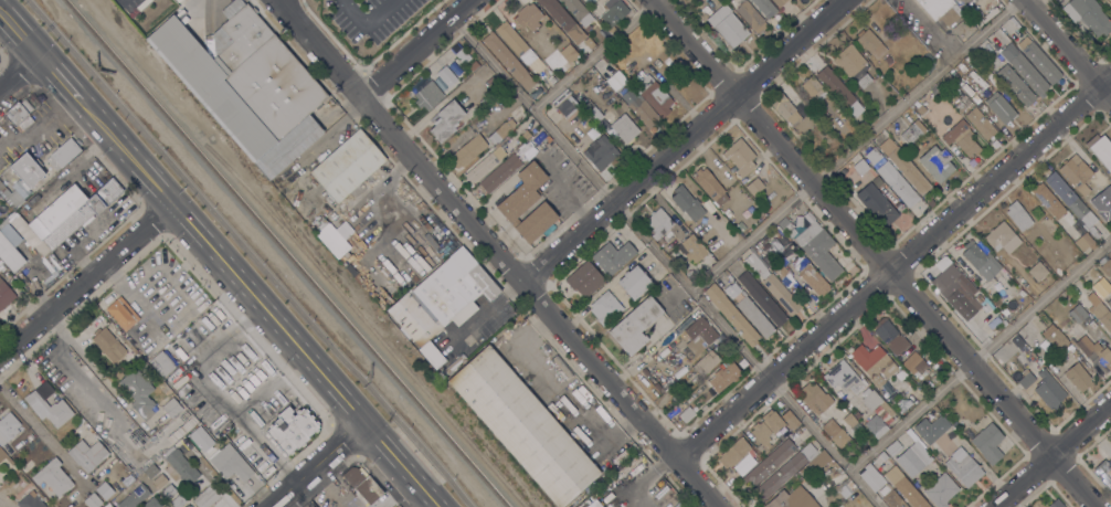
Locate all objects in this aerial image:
building: (779, 2)
building: (764, 8)
building: (967, 8)
building: (941, 10)
building: (578, 11)
road: (352, 12)
road: (378, 12)
building: (613, 12)
building: (557, 13)
building: (749, 14)
building: (1088, 15)
building: (528, 17)
building: (1014, 21)
building: (727, 25)
building: (596, 30)
road: (18, 34)
building: (575, 34)
building: (869, 42)
building: (588, 43)
road: (415, 46)
building: (519, 47)
road: (1067, 49)
building: (569, 53)
road: (594, 53)
building: (866, 54)
building: (508, 60)
building: (887, 60)
building: (548, 61)
building: (1039, 61)
building: (853, 65)
building: (473, 66)
road: (17, 70)
building: (1024, 70)
building: (981, 71)
building: (445, 74)
building: (964, 75)
road: (57, 78)
building: (551, 78)
building: (417, 83)
building: (246, 85)
building: (438, 85)
building: (1015, 85)
building: (814, 89)
building: (838, 91)
building: (428, 95)
building: (654, 95)
building: (834, 104)
building: (479, 105)
building: (567, 106)
building: (639, 108)
building: (1001, 108)
building: (785, 109)
building: (920, 109)
building: (19, 114)
building: (595, 114)
building: (446, 120)
building: (981, 123)
building: (624, 128)
building: (801, 130)
building: (501, 131)
building: (913, 133)
building: (527, 134)
building: (961, 138)
building: (547, 139)
road: (681, 139)
road: (854, 145)
building: (512, 147)
building: (520, 149)
building: (468, 150)
building: (1100, 150)
building: (601, 152)
building: (63, 154)
building: (874, 156)
building: (739, 157)
building: (937, 163)
building: (485, 165)
building: (347, 166)
building: (903, 166)
building: (860, 167)
building: (28, 169)
building: (499, 173)
building: (1076, 173)
building: (898, 184)
building: (710, 186)
building: (754, 187)
building: (522, 192)
building: (11, 197)
building: (1047, 200)
building: (745, 201)
building: (1071, 203)
building: (687, 204)
building: (1099, 204)
building: (877, 205)
building: (729, 211)
building: (62, 216)
building: (1019, 216)
building: (536, 223)
building: (658, 223)
building: (782, 223)
building: (343, 230)
building: (789, 230)
building: (775, 232)
building: (1002, 237)
building: (1027, 237)
building: (332, 241)
building: (1082, 242)
building: (816, 245)
building: (690, 249)
road: (248, 253)
railway: (268, 253)
railway: (287, 253)
building: (602, 253)
road: (872, 253)
road: (499, 254)
building: (9, 255)
building: (1050, 257)
building: (617, 258)
building: (978, 260)
road: (666, 261)
road: (893, 266)
building: (1107, 267)
building: (780, 271)
building: (1037, 271)
building: (580, 275)
building: (691, 276)
road: (85, 278)
building: (813, 281)
building: (634, 283)
building: (590, 285)
building: (732, 291)
building: (954, 291)
building: (1102, 291)
building: (6, 295)
building: (781, 295)
building: (443, 297)
building: (762, 298)
building: (980, 299)
road: (261, 303)
building: (605, 308)
building: (985, 308)
building: (1004, 311)
building: (1015, 311)
building: (1078, 313)
building: (121, 314)
building: (731, 315)
building: (1102, 316)
building: (755, 317)
building: (1090, 323)
building: (634, 326)
building: (696, 330)
building: (890, 336)
building: (1054, 337)
building: (702, 341)
building: (108, 345)
building: (431, 355)
road: (980, 355)
building: (1097, 355)
building: (706, 362)
building: (874, 362)
building: (914, 362)
building: (163, 363)
building: (946, 373)
road: (76, 376)
building: (723, 376)
building: (842, 377)
building: (1078, 377)
building: (1025, 379)
building: (924, 387)
building: (1048, 390)
building: (138, 392)
building: (815, 398)
building: (871, 400)
building: (47, 405)
building: (172, 406)
building: (686, 414)
building: (790, 420)
building: (849, 420)
building: (772, 421)
road: (32, 422)
building: (522, 426)
building: (876, 426)
building: (9, 427)
building: (931, 429)
building: (290, 431)
building: (835, 433)
building: (781, 436)
building: (761, 437)
building: (199, 439)
building: (987, 443)
building: (893, 447)
building: (733, 453)
building: (87, 454)
building: (2, 455)
building: (882, 456)
road: (1054, 456)
building: (913, 458)
building: (769, 462)
building: (231, 463)
road: (317, 464)
building: (819, 465)
building: (181, 466)
building: (964, 469)
building: (150, 471)
building: (785, 471)
building: (1104, 472)
building: (52, 476)
building: (870, 476)
building: (159, 480)
building: (361, 485)
building: (904, 487)
building: (844, 488)
building: (104, 490)
building: (940, 490)
building: (169, 492)
building: (134, 497)
building: (207, 497)
building: (891, 497)
building: (668, 498)
building: (792, 499)
building: (30, 500)
building: (92, 500)
building: (178, 500)
building: (151, 503)
building: (593, 504)
building: (1055, 504)
building: (188, 506)
building: (395, 506)

